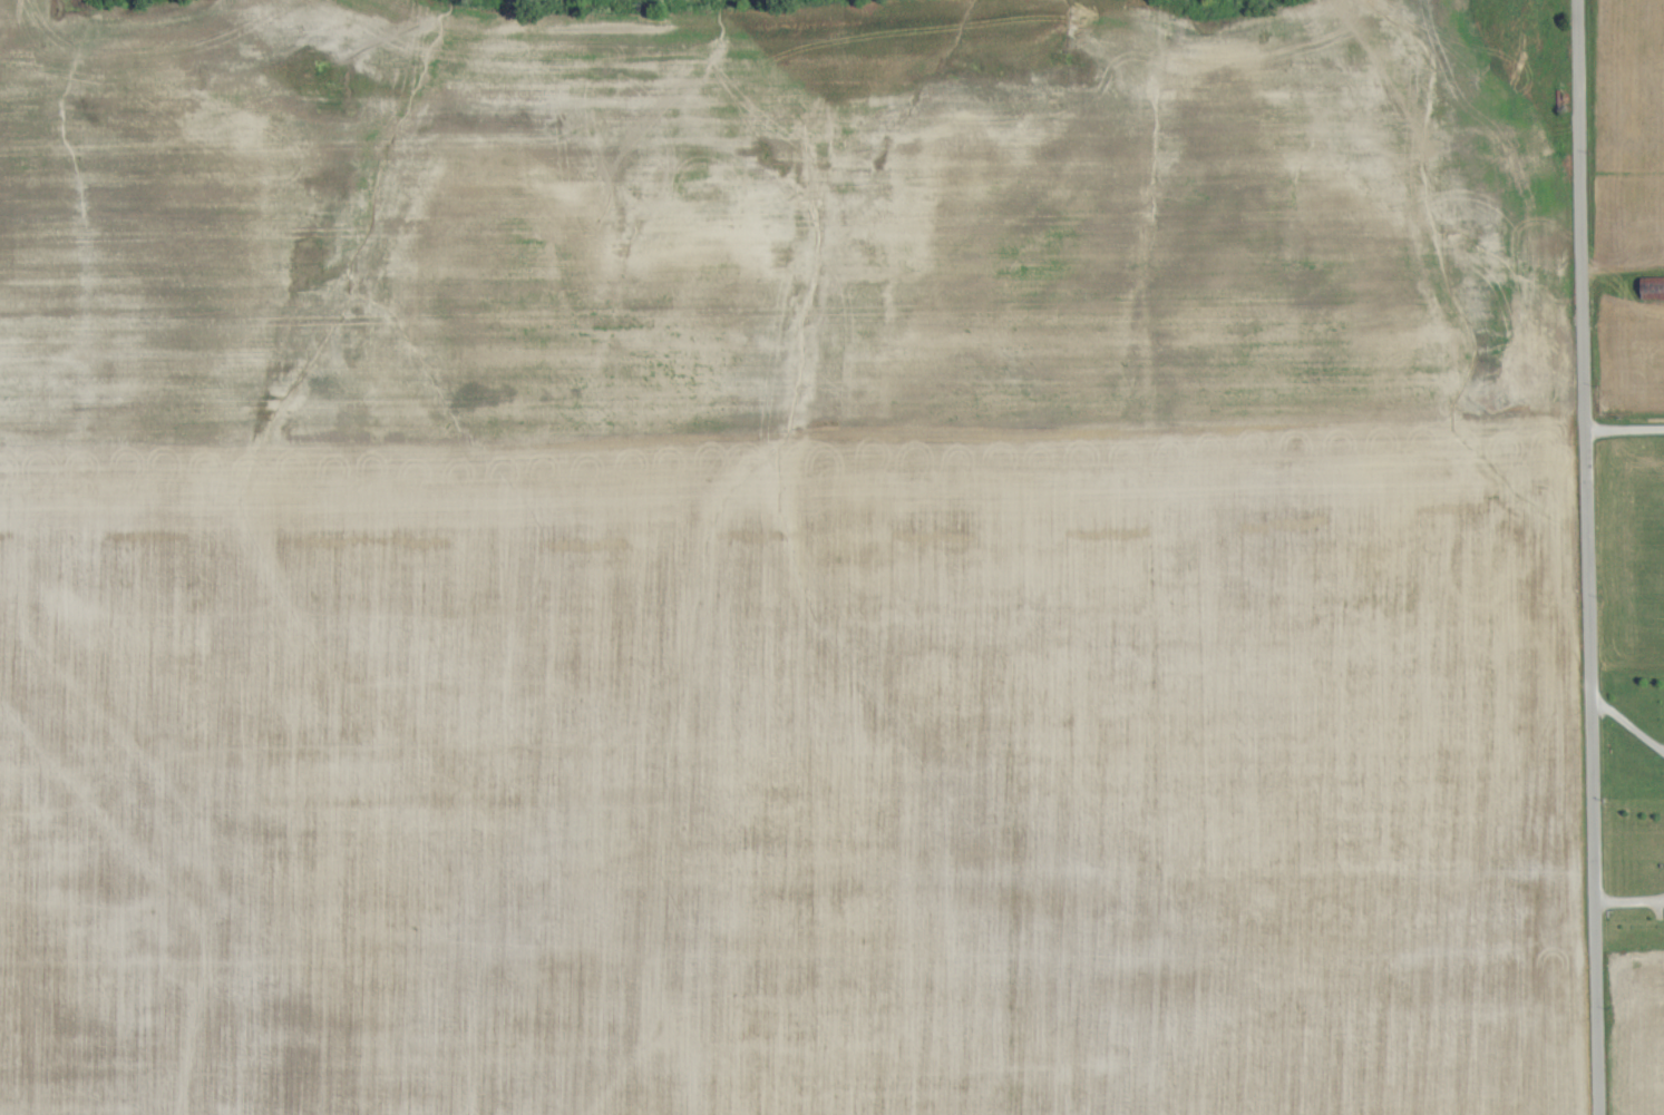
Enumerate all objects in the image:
road: (1623, 436)
road: (1585, 557)

